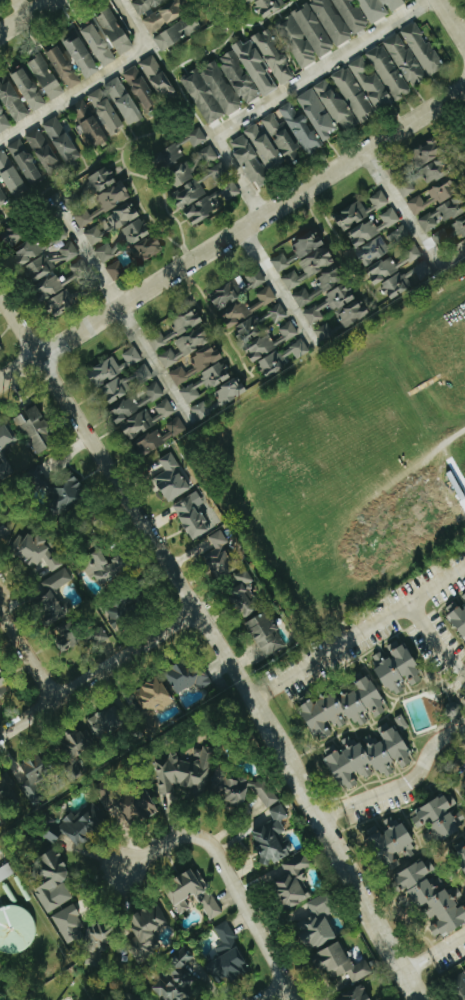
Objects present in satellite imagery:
building: (1, 0)
building: (256, 0)
building: (147, 4)
building: (380, 8)
building: (166, 15)
road: (26, 16)
building: (341, 18)
road: (451, 20)
building: (117, 31)
building: (178, 33)
building: (305, 35)
road: (464, 36)
building: (100, 44)
building: (424, 50)
building: (82, 56)
building: (265, 62)
building: (396, 66)
building: (64, 67)
building: (45, 77)
road: (95, 77)
building: (238, 78)
building: (371, 86)
building: (27, 88)
building: (139, 88)
building: (210, 92)
road: (280, 93)
building: (353, 94)
building: (11, 100)
building: (122, 101)
building: (335, 105)
building: (105, 110)
building: (317, 114)
building: (3, 122)
building: (89, 122)
building: (300, 129)
building: (60, 139)
building: (273, 144)
building: (44, 152)
building: (204, 156)
building: (430, 158)
building: (178, 159)
building: (23, 161)
building: (249, 161)
building: (10, 175)
building: (223, 181)
building: (404, 188)
building: (188, 194)
building: (102, 195)
building: (2, 196)
building: (437, 204)
road: (402, 208)
building: (201, 209)
building: (358, 211)
building: (110, 223)
building: (372, 227)
building: (449, 234)
building: (12, 235)
road: (232, 235)
building: (132, 243)
road: (451, 255)
building: (308, 259)
building: (281, 262)
building: (116, 270)
building: (49, 275)
building: (253, 278)
road: (278, 287)
building: (228, 292)
building: (305, 296)
building: (336, 300)
building: (247, 307)
road: (123, 308)
building: (185, 321)
building: (259, 323)
building: (329, 333)
building: (184, 346)
building: (0, 350)
building: (260, 350)
building: (195, 364)
building: (112, 367)
building: (205, 382)
building: (126, 383)
building: (218, 399)
building: (139, 411)
building: (33, 429)
building: (5, 437)
building: (158, 437)
crop: (348, 459)
building: (4, 469)
building: (171, 479)
building: (66, 494)
building: (191, 517)
building: (3, 530)
building: (35, 553)
building: (218, 557)
building: (107, 567)
building: (242, 593)
building: (56, 610)
building: (458, 614)
building: (121, 615)
road: (365, 628)
building: (265, 634)
road: (438, 636)
road: (217, 644)
road: (28, 656)
building: (395, 667)
road: (98, 674)
building: (186, 676)
building: (3, 686)
road: (260, 695)
building: (152, 697)
building: (344, 708)
building: (109, 721)
building: (78, 742)
building: (369, 754)
building: (182, 771)
building: (36, 773)
road: (410, 773)
building: (241, 788)
building: (7, 789)
building: (125, 803)
road: (330, 809)
building: (2, 818)
building: (436, 818)
building: (83, 823)
building: (52, 832)
building: (271, 836)
building: (391, 840)
building: (5, 872)
road: (230, 877)
building: (293, 879)
building: (51, 880)
building: (190, 893)
building: (430, 897)
building: (315, 920)
building: (68, 923)
building: (148, 926)
building: (17, 927)
building: (96, 940)
road: (447, 945)
building: (226, 957)
road: (416, 965)
building: (340, 966)
building: (175, 980)
building: (456, 982)
road: (273, 991)
building: (356, 994)

